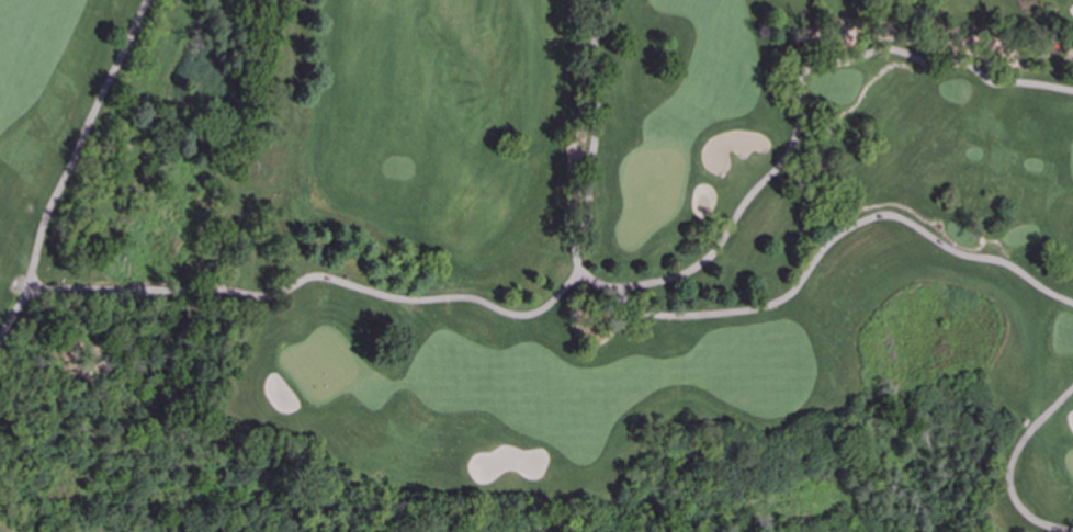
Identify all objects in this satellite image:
road: (82, 142)
road: (596, 147)
park: (534, 265)
road: (643, 284)
road: (286, 292)
road: (1010, 466)

